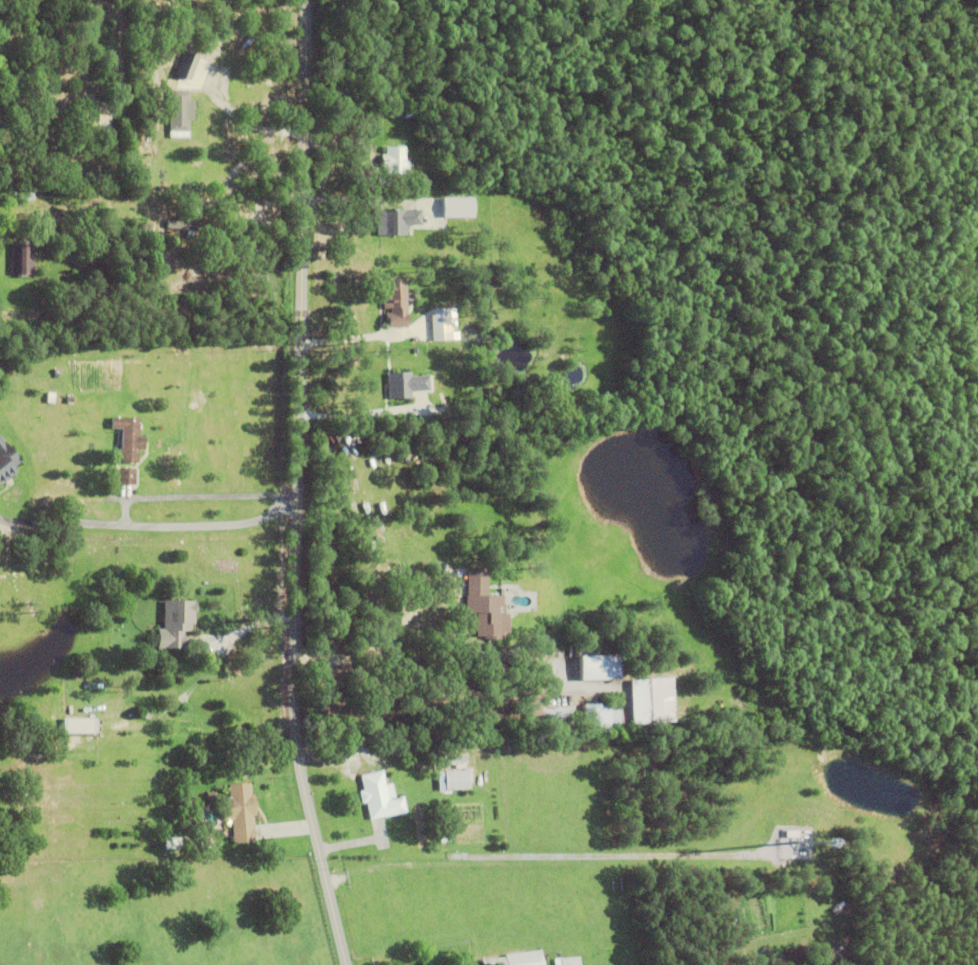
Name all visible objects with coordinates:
building: (186, 65)
building: (50, 109)
building: (179, 111)
road: (251, 123)
building: (46, 140)
building: (359, 157)
building: (395, 161)
building: (428, 181)
building: (26, 193)
building: (458, 208)
building: (397, 221)
building: (59, 226)
building: (188, 227)
building: (22, 259)
building: (396, 304)
building: (441, 325)
building: (489, 365)
building: (406, 385)
building: (552, 388)
building: (50, 398)
building: (69, 400)
building: (491, 420)
building: (129, 439)
building: (8, 459)
building: (127, 477)
road: (299, 485)
road: (193, 494)
road: (61, 521)
road: (214, 524)
building: (486, 607)
road: (250, 621)
building: (175, 624)
building: (603, 666)
building: (661, 701)
building: (146, 717)
building: (551, 719)
building: (602, 719)
building: (77, 727)
building: (456, 781)
building: (379, 798)
building: (237, 806)
building: (196, 833)
building: (208, 841)
road: (540, 856)
building: (517, 960)

